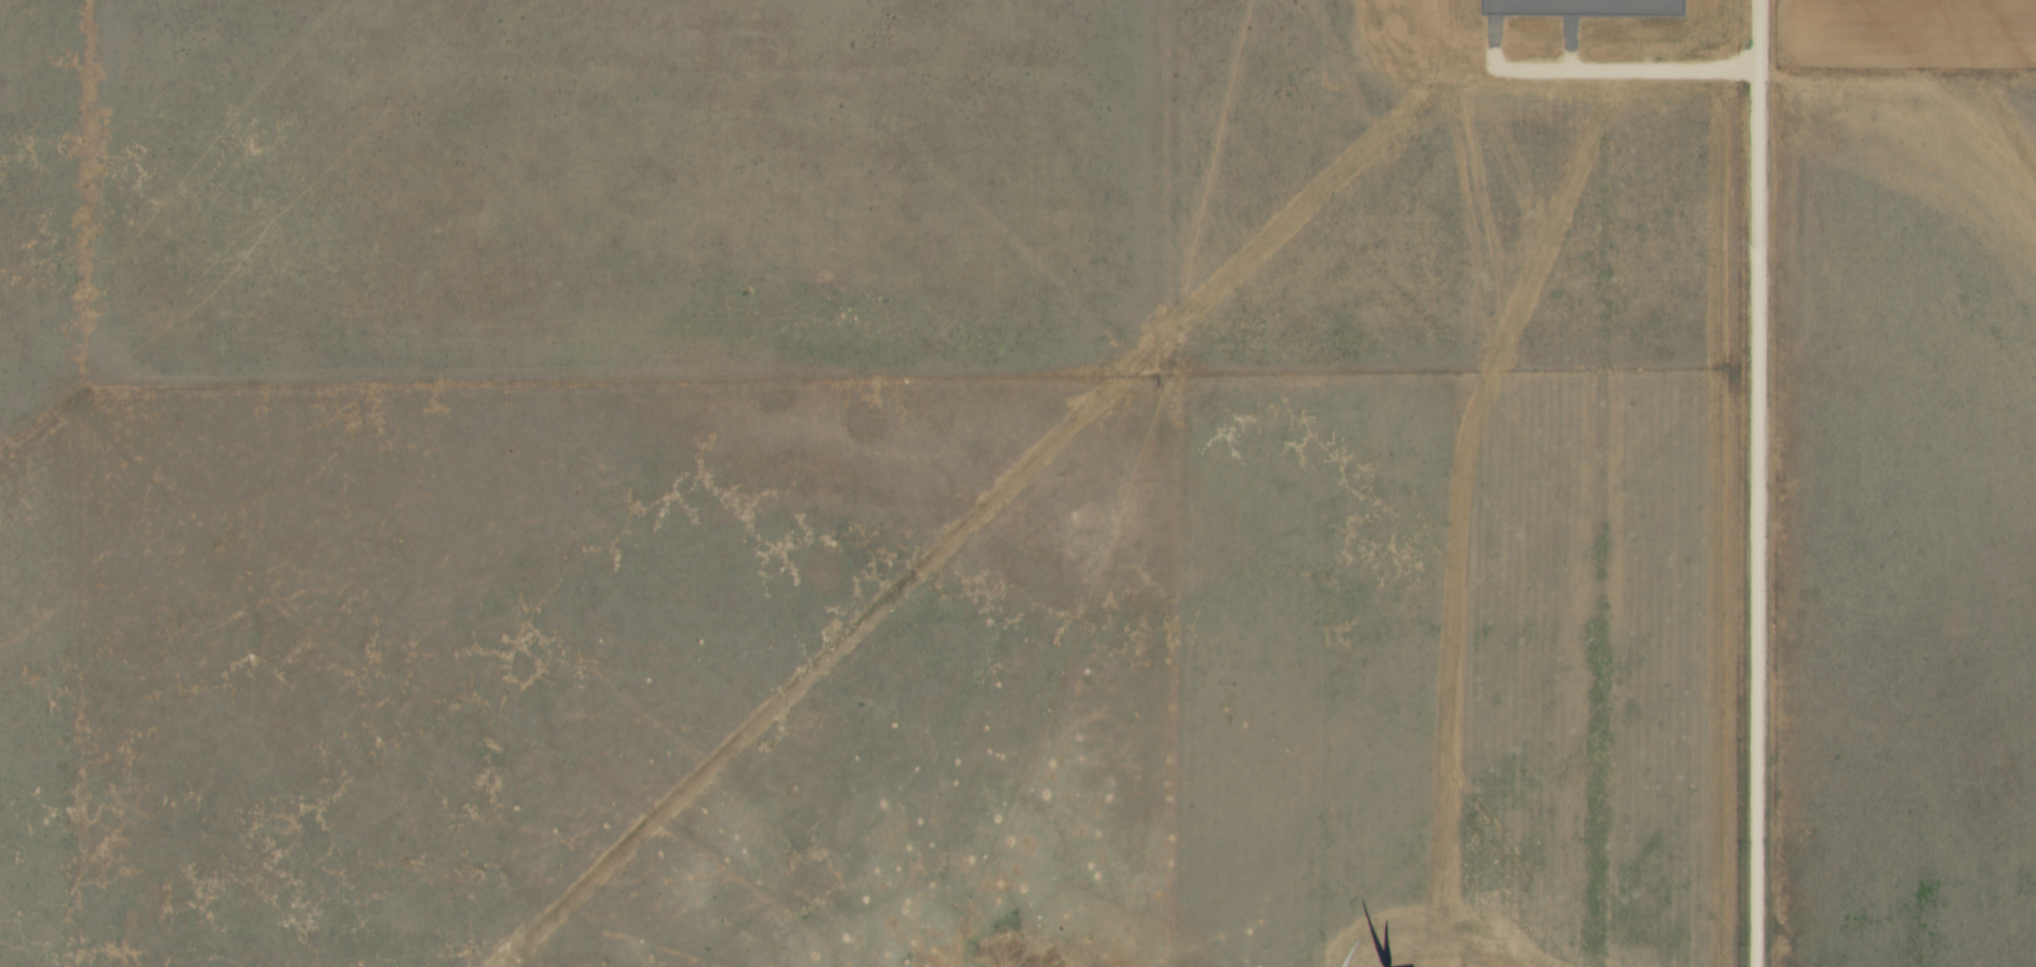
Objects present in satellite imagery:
power substation: (1582, 8)
road: (1572, 45)
road: (1598, 72)
road: (1759, 483)

